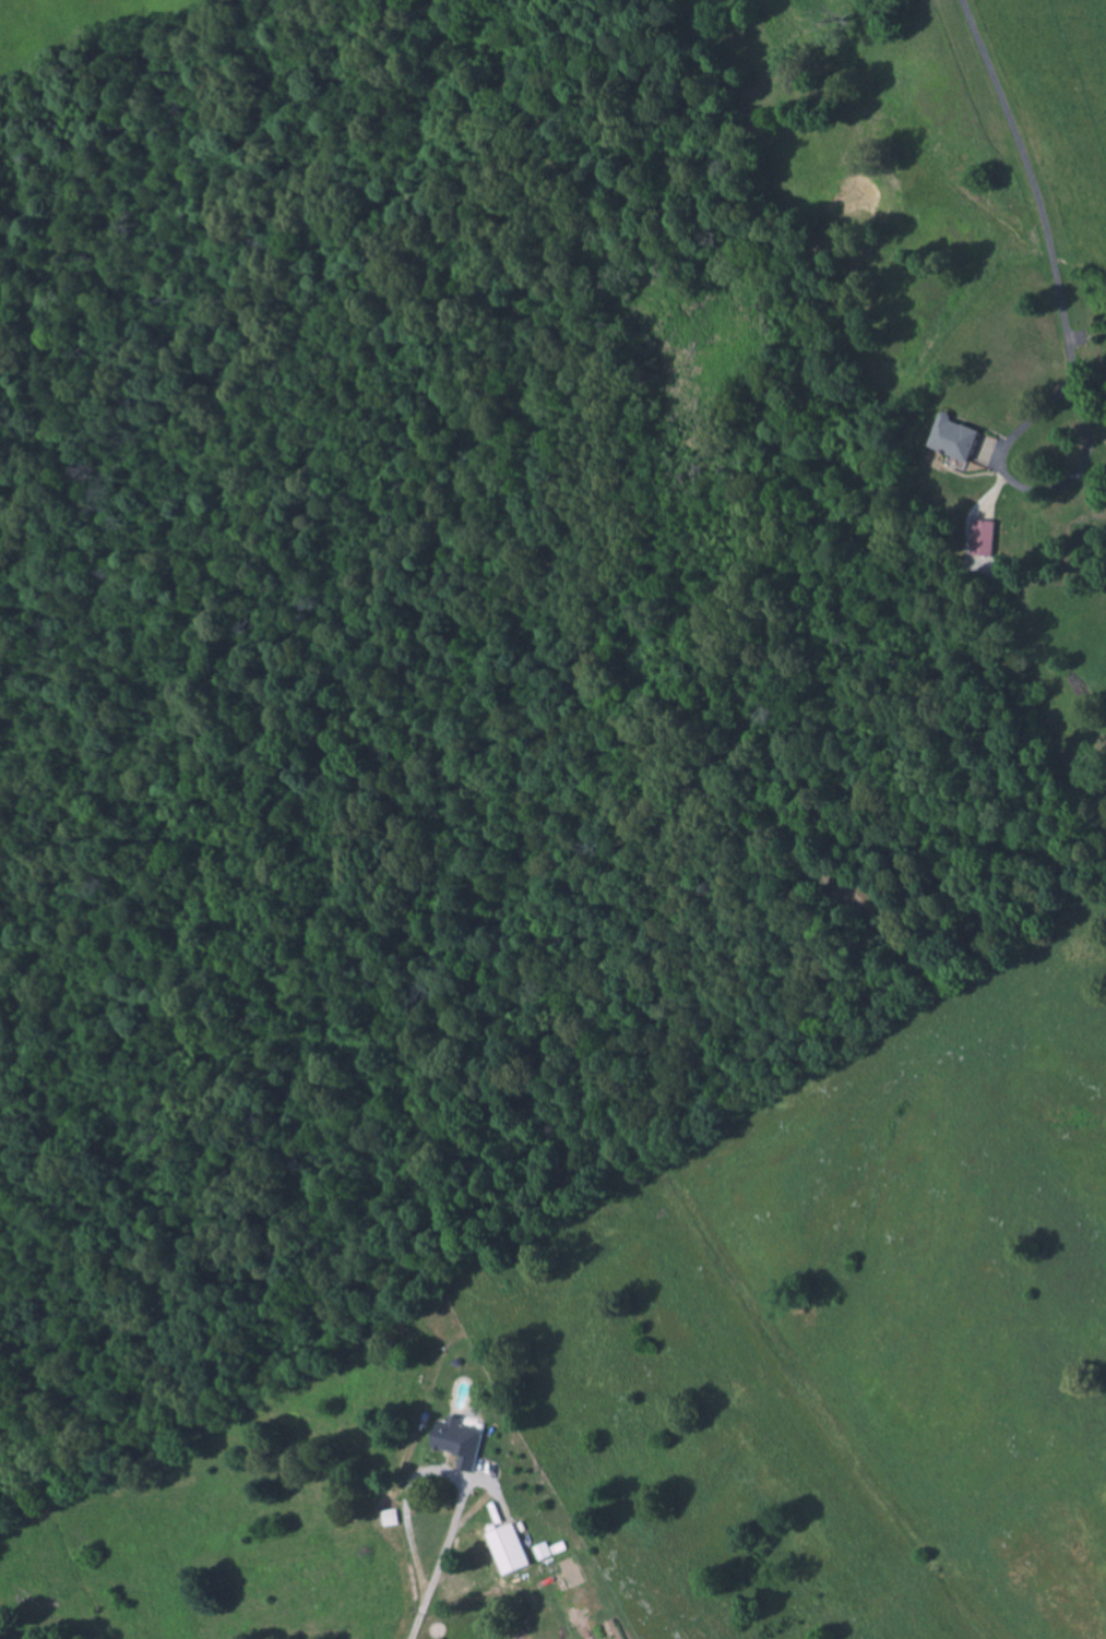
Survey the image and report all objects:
road: (1033, 180)
building: (959, 439)
building: (989, 538)
building: (463, 1441)
road: (438, 1471)
road: (490, 1498)
building: (393, 1519)
building: (512, 1550)
road: (418, 1622)

